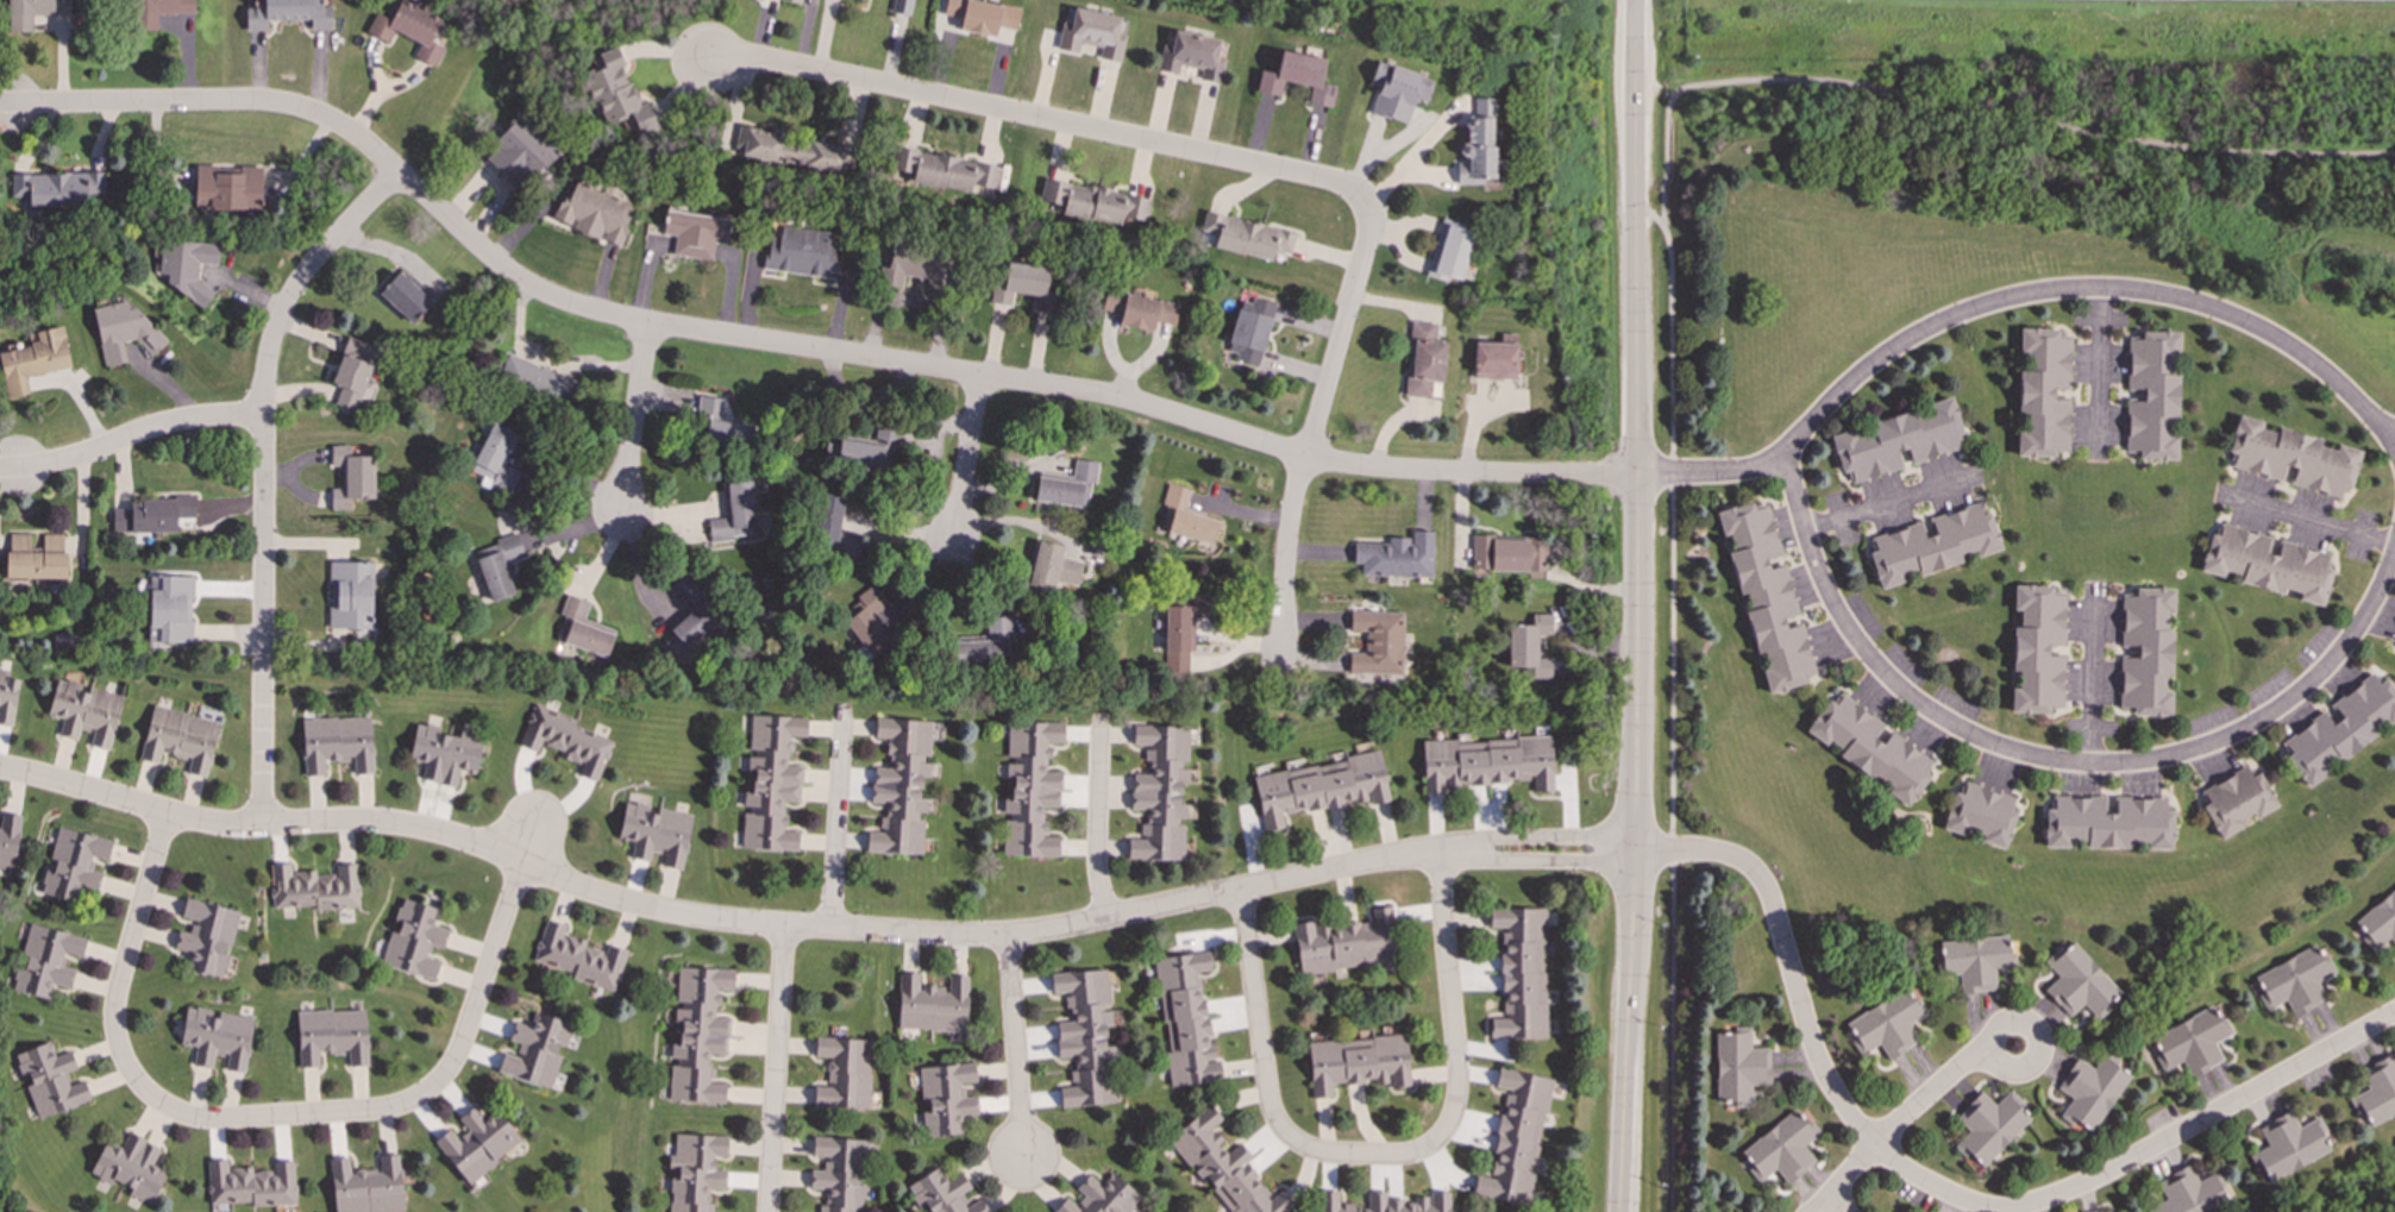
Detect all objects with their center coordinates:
building: (795, 0)
building: (902, 6)
building: (159, 11)
building: (32, 12)
building: (288, 13)
building: (982, 15)
building: (408, 27)
building: (1091, 33)
building: (1190, 55)
building: (1297, 77)
building: (1396, 92)
building: (614, 93)
road: (1967, 105)
park: (2017, 115)
road: (1041, 118)
building: (1477, 145)
building: (794, 150)
building: (518, 152)
road: (1413, 157)
building: (941, 171)
building: (59, 188)
building: (227, 188)
building: (1093, 202)
building: (593, 212)
road: (1650, 214)
building: (694, 233)
building: (1243, 237)
building: (1449, 250)
building: (801, 252)
building: (187, 266)
building: (911, 268)
building: (1021, 284)
building: (405, 297)
building: (1139, 309)
building: (121, 329)
building: (1249, 329)
road: (864, 357)
building: (1494, 358)
building: (32, 360)
building: (1423, 360)
road: (2100, 366)
building: (351, 373)
building: (533, 381)
building: (2042, 391)
building: (2151, 395)
road: (634, 415)
building: (720, 423)
road: (130, 437)
road: (2393, 438)
building: (1896, 440)
road: (1308, 444)
building: (867, 448)
building: (2291, 457)
building: (495, 459)
road: (966, 463)
building: (351, 473)
road: (264, 475)
building: (1068, 485)
road: (1883, 502)
building: (152, 514)
building: (734, 514)
building: (1184, 516)
road: (2313, 521)
road: (1805, 526)
building: (832, 527)
building: (1931, 545)
building: (1509, 553)
building: (1396, 555)
building: (35, 557)
building: (2267, 564)
building: (497, 565)
building: (1052, 566)
building: (350, 595)
building: (1766, 595)
road: (1637, 605)
building: (170, 609)
building: (690, 615)
building: (870, 621)
building: (582, 628)
building: (1183, 630)
building: (64, 641)
building: (1377, 642)
building: (984, 647)
building: (1534, 649)
building: (2036, 649)
building: (2145, 652)
road: (2094, 680)
building: (7, 699)
building: (84, 711)
road: (1672, 717)
building: (2340, 728)
building: (180, 739)
building: (568, 741)
building: (337, 743)
building: (1870, 748)
building: (445, 753)
building: (1487, 762)
building: (771, 783)
building: (899, 786)
building: (1317, 787)
building: (1030, 789)
building: (1159, 793)
building: (2237, 800)
building: (1980, 815)
road: (836, 816)
road: (1097, 821)
building: (2108, 823)
building: (654, 833)
building: (8, 839)
road: (529, 842)
building: (74, 864)
road: (1309, 874)
building: (314, 887)
building: (2378, 921)
building: (207, 936)
building: (414, 940)
building: (1347, 944)
building: (578, 956)
building: (45, 960)
building: (1974, 961)
building: (1519, 973)
building: (2077, 981)
building: (2293, 981)
building: (932, 1004)
building: (1185, 1018)
building: (1887, 1024)
building: (698, 1034)
building: (332, 1036)
building: (218, 1037)
building: (1085, 1037)
building: (2193, 1041)
road: (1015, 1047)
building: (535, 1050)
building: (1356, 1062)
building: (1738, 1067)
road: (776, 1068)
road: (2020, 1069)
building: (844, 1073)
building: (49, 1079)
building: (2088, 1091)
building: (2376, 1091)
road: (1929, 1094)
building: (945, 1097)
road: (262, 1117)
building: (1988, 1125)
building: (1516, 1138)
building: (477, 1143)
building: (2286, 1147)
building: (1781, 1148)
road: (1380, 1155)
building: (130, 1166)
building: (1225, 1168)
building: (695, 1172)
building: (839, 1174)
road: (1848, 1175)
building: (251, 1183)
building: (366, 1186)
building: (943, 1193)
building: (2190, 1193)
building: (1101, 1197)
building: (1386, 1202)
park: (2391, 1210)
road: (1825, 1211)

